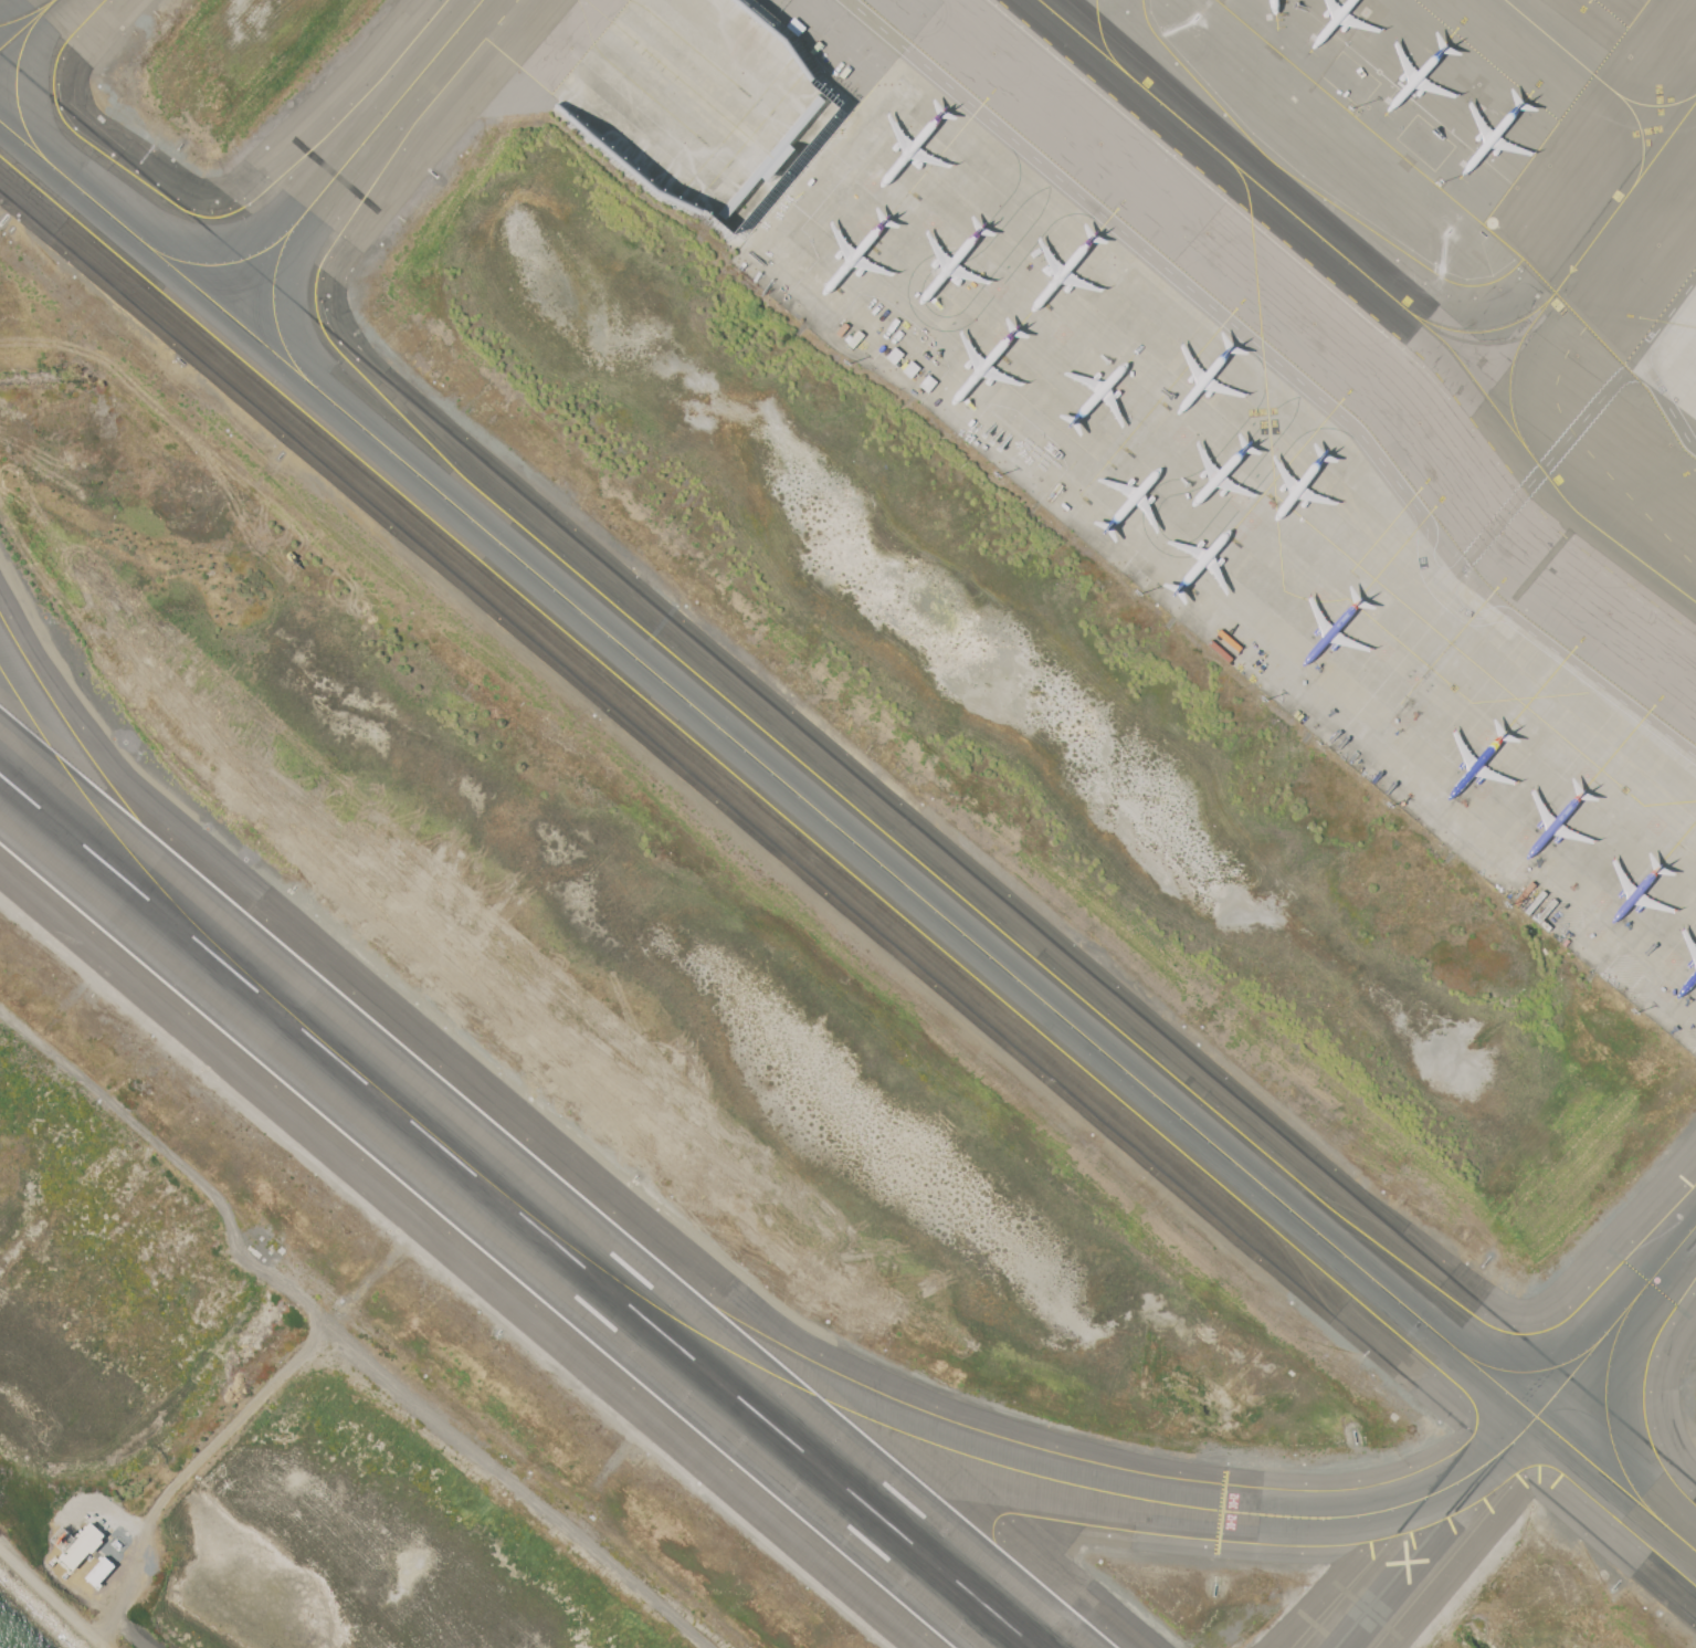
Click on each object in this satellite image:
airport taxiway: (28, 14)
airport taxiway: (27, 24)
airport taxiway: (1107, 43)
airport taxiway: (1561, 46)
airport taxiway: (15, 90)
airport taxiway: (1655, 105)
airport taxiway: (388, 113)
airport taxiway: (1642, 137)
airport taxiway: (1624, 198)
airport taxiway: (222, 264)
road: (1172, 274)
airport taxiway: (1381, 288)
airport taxiway: (273, 311)
road: (921, 312)
airport taxiway: (1484, 330)
airport apron: (1674, 358)
road: (1640, 359)
airport taxiway: (1510, 369)
airport apron: (1163, 447)
road: (1538, 471)
road: (1156, 539)
road: (1569, 660)
airport: (849, 822)
airport taxiway: (847, 837)
airport taxiway: (145, 870)
airport runway: (517, 1210)
airport taxiway: (1615, 1320)
airport taxiway: (1528, 1371)
airport taxiway: (1605, 1410)
airport taxiway: (989, 1461)
building: (82, 1545)
building: (101, 1571)

